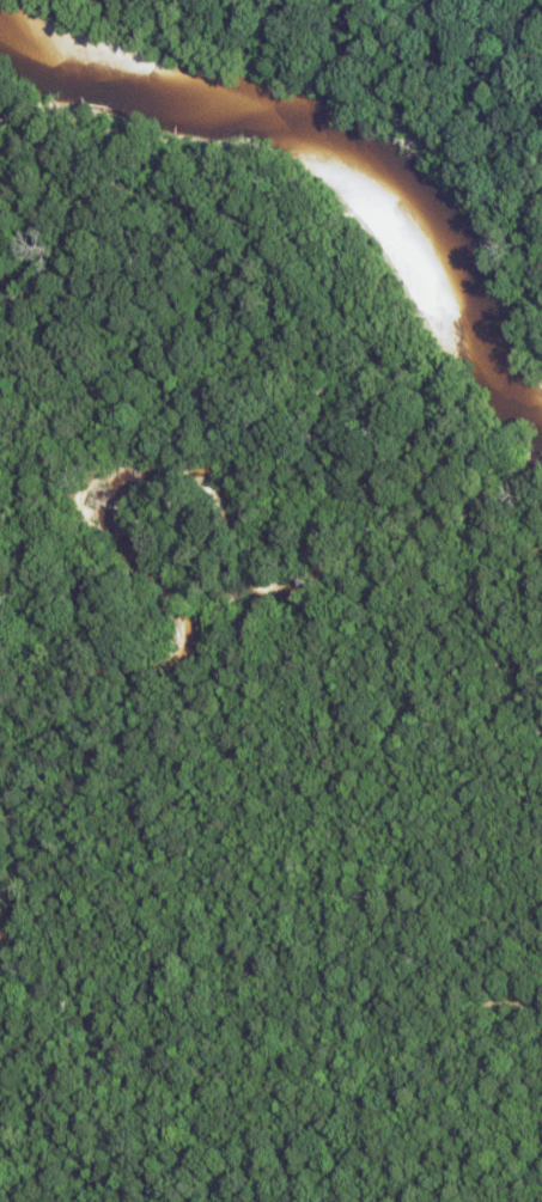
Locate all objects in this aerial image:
river: (346, 132)
river: (197, 466)
river: (19, 870)

